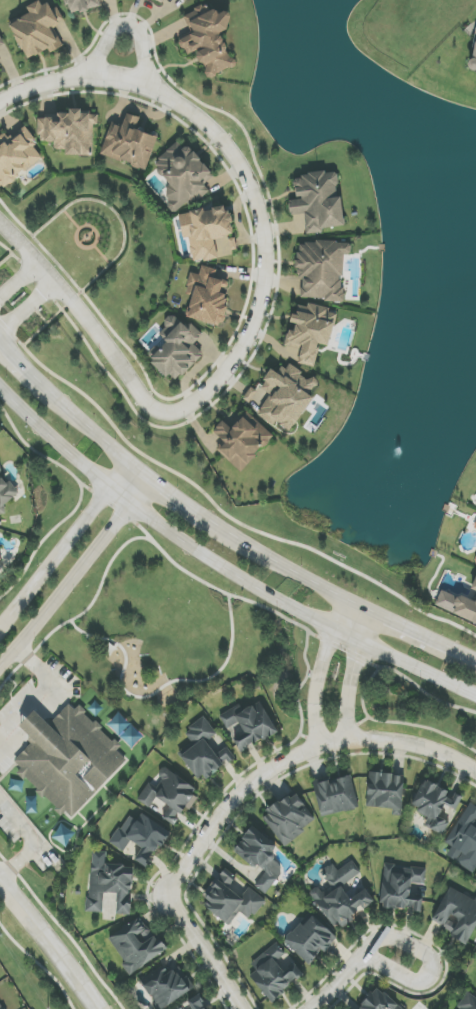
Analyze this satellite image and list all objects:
building: (164, 0)
building: (187, 0)
building: (81, 5)
road: (130, 24)
building: (38, 30)
building: (208, 40)
building: (2, 52)
building: (474, 55)
building: (69, 132)
building: (129, 143)
building: (17, 156)
road: (244, 172)
building: (182, 176)
building: (318, 201)
building: (205, 231)
building: (228, 243)
building: (321, 269)
road: (20, 282)
building: (207, 296)
road: (27, 307)
road: (85, 319)
building: (310, 331)
building: (177, 349)
road: (28, 373)
building: (283, 397)
road: (93, 433)
building: (241, 440)
traffic signals: (129, 463)
road: (58, 464)
traffic signals: (152, 482)
traffic signals: (107, 489)
building: (6, 492)
road: (171, 495)
road: (216, 509)
building: (475, 527)
road: (41, 541)
road: (64, 543)
building: (1, 559)
building: (475, 561)
road: (221, 564)
road: (282, 565)
road: (76, 573)
building: (473, 584)
building: (465, 609)
road: (79, 614)
road: (295, 623)
road: (402, 627)
road: (464, 655)
road: (319, 674)
road: (351, 677)
road: (41, 688)
road: (160, 690)
building: (248, 725)
building: (204, 751)
building: (70, 756)
road: (293, 760)
building: (384, 791)
building: (170, 795)
building: (335, 795)
building: (432, 805)
building: (290, 818)
building: (141, 837)
building: (464, 840)
road: (31, 841)
building: (260, 857)
building: (109, 884)
building: (402, 888)
building: (340, 896)
building: (231, 898)
building: (457, 915)
road: (63, 930)
building: (310, 939)
road: (395, 939)
road: (49, 945)
building: (136, 945)
road: (203, 952)
road: (371, 960)
road: (39, 964)
building: (275, 972)
building: (164, 987)
building: (378, 1001)
building: (197, 1003)
building: (468, 1003)
building: (1, 1007)

